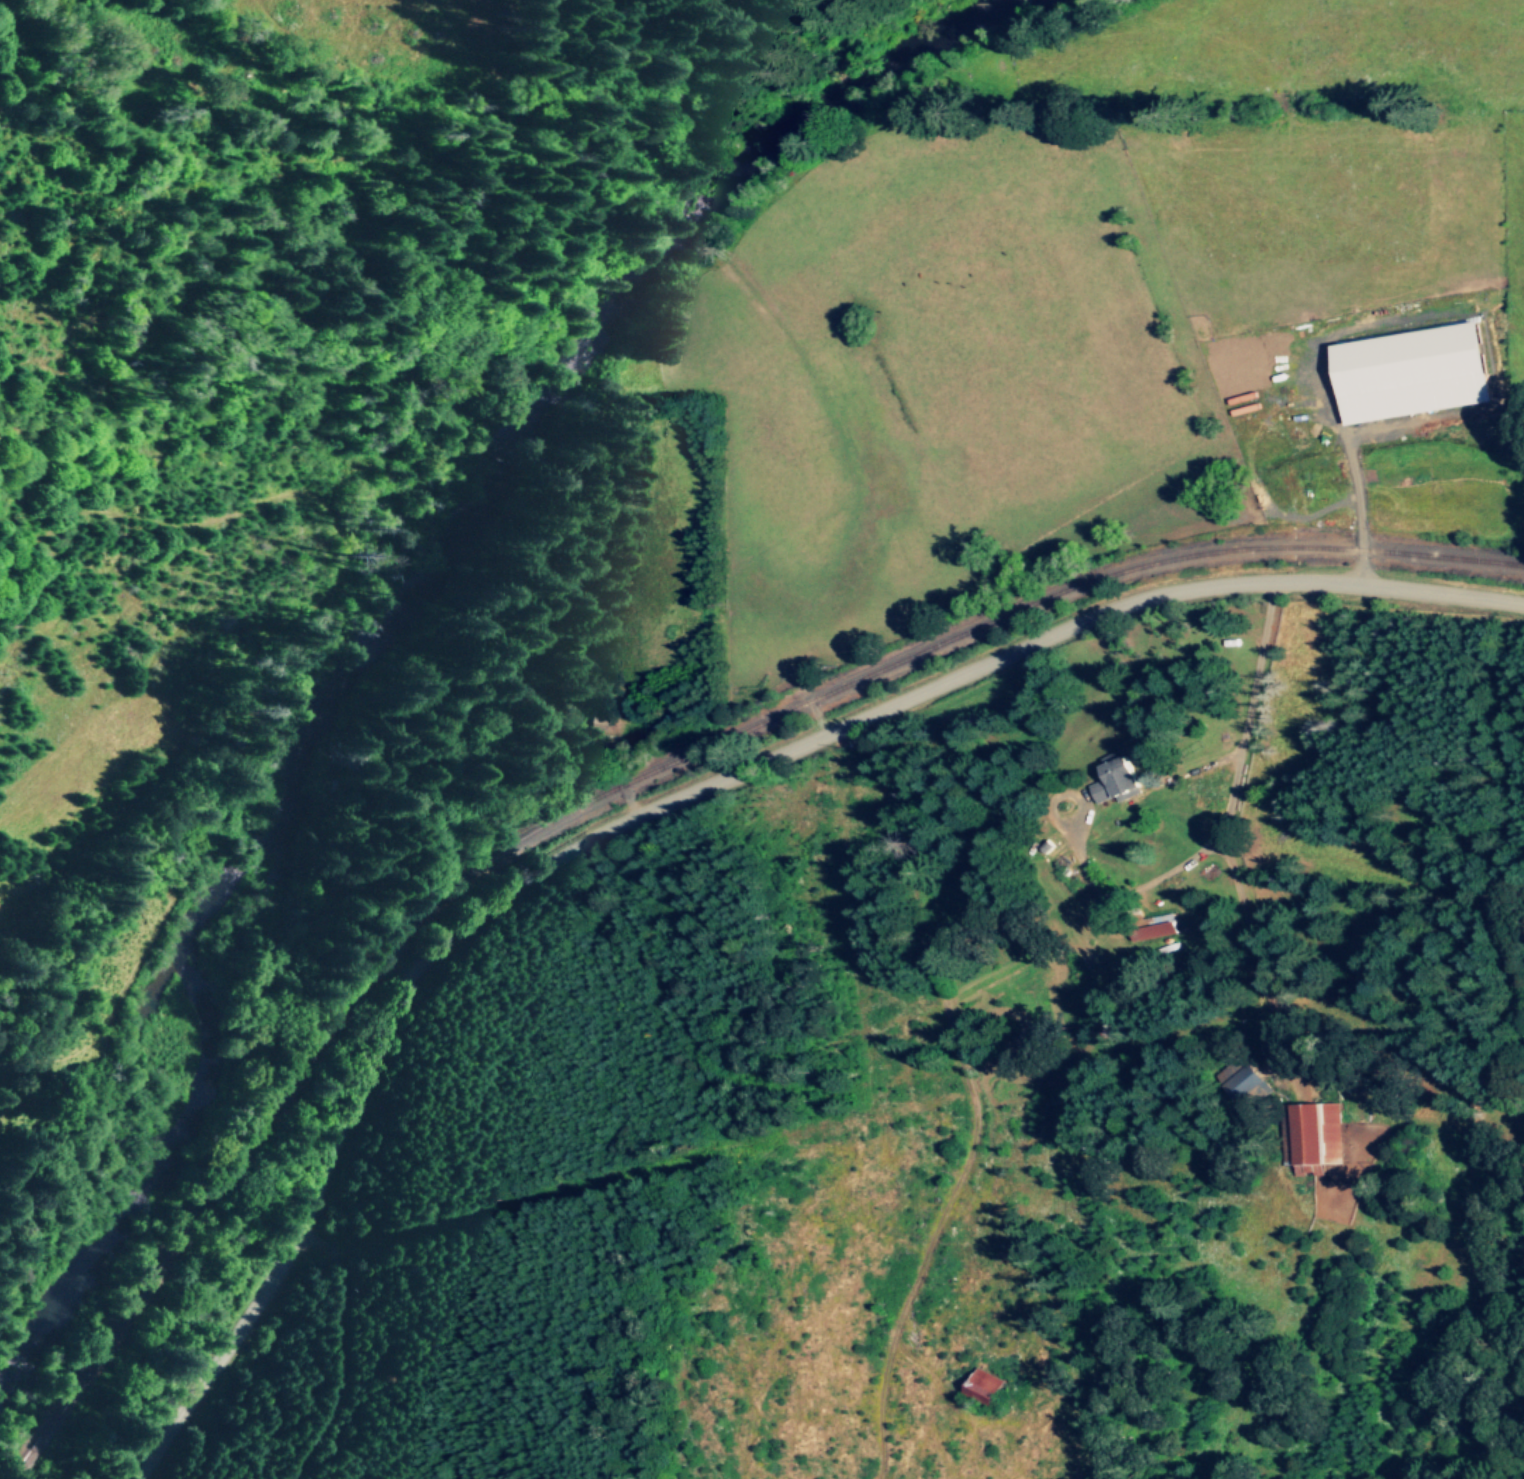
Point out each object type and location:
building: (1416, 371)
road: (1352, 468)
river: (391, 604)
building: (1119, 779)
railway: (625, 780)
road: (675, 799)
road: (1223, 822)
building: (1156, 926)
road: (1254, 949)
building: (1249, 1081)
building: (1318, 1132)

